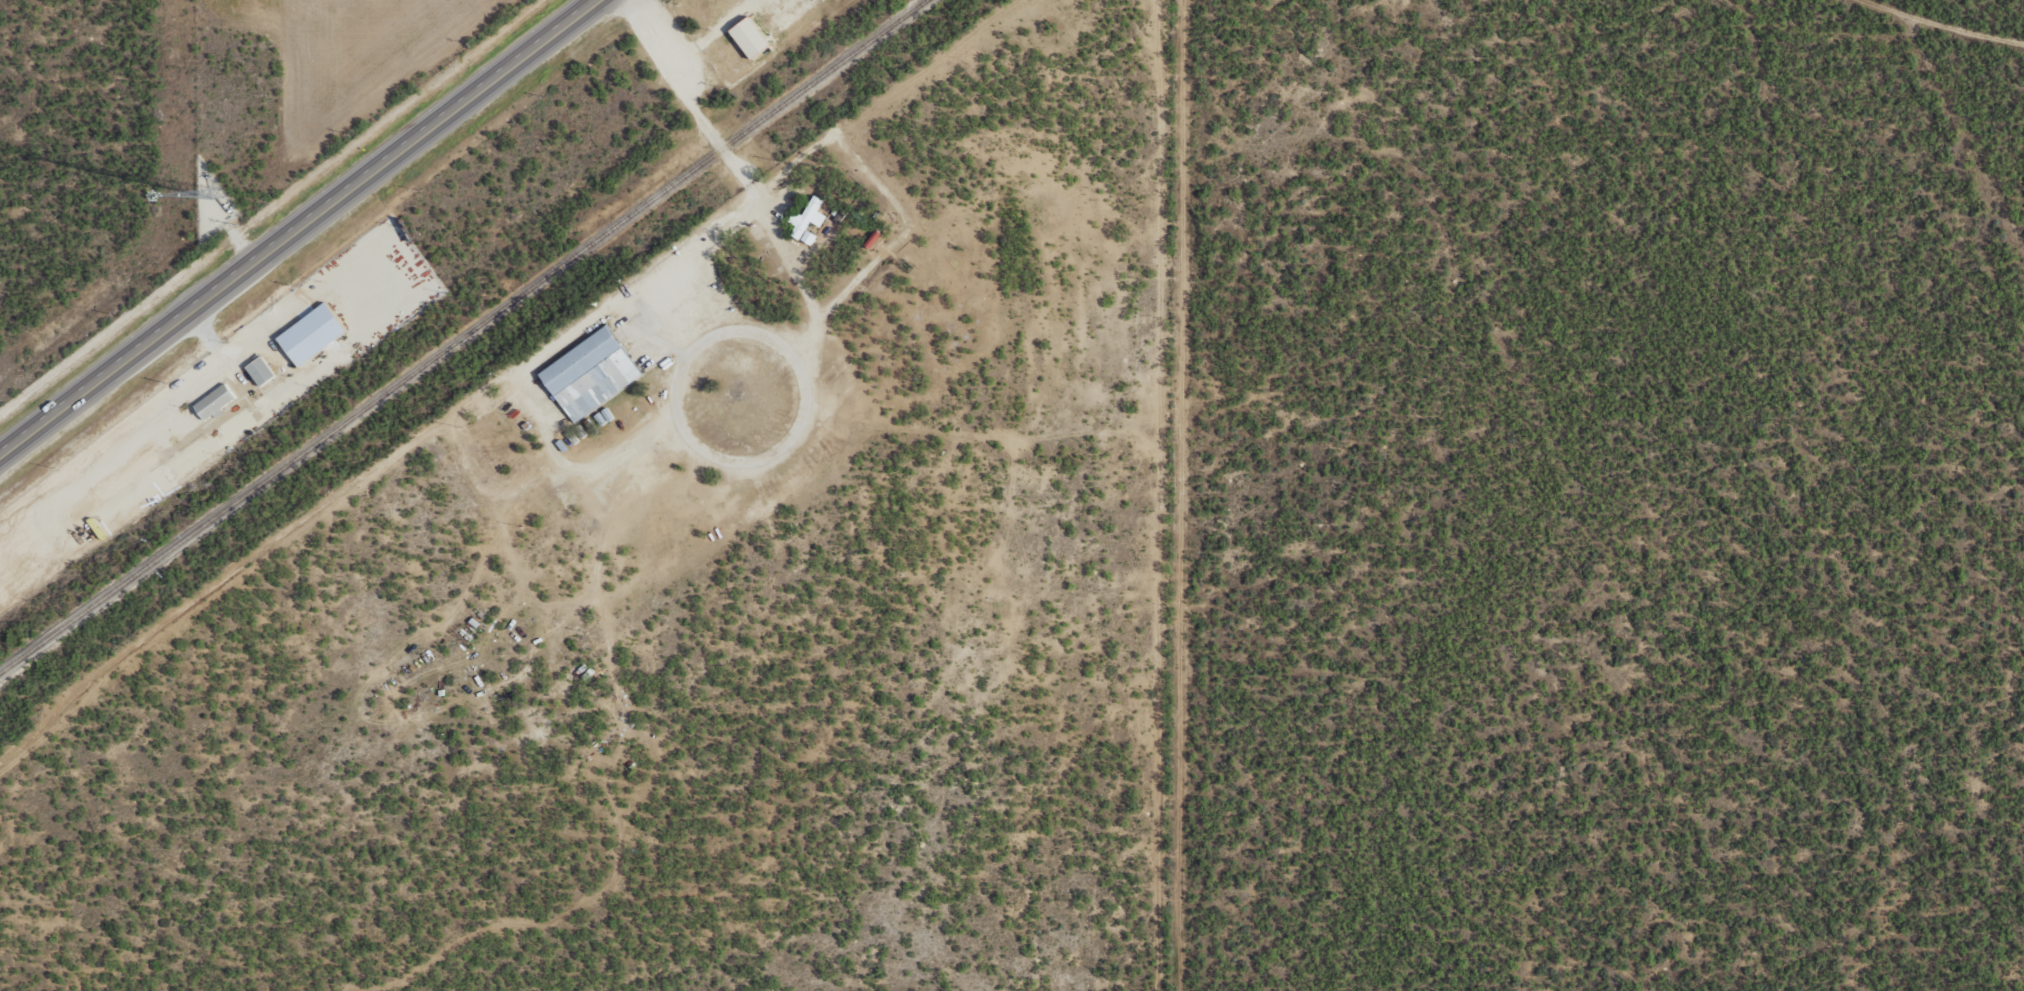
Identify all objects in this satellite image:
road: (1932, 22)
building: (744, 36)
road: (1960, 138)
building: (806, 221)
road: (300, 227)
building: (316, 334)
railway: (460, 335)
building: (264, 371)
building: (587, 374)
building: (217, 399)
building: (603, 416)

